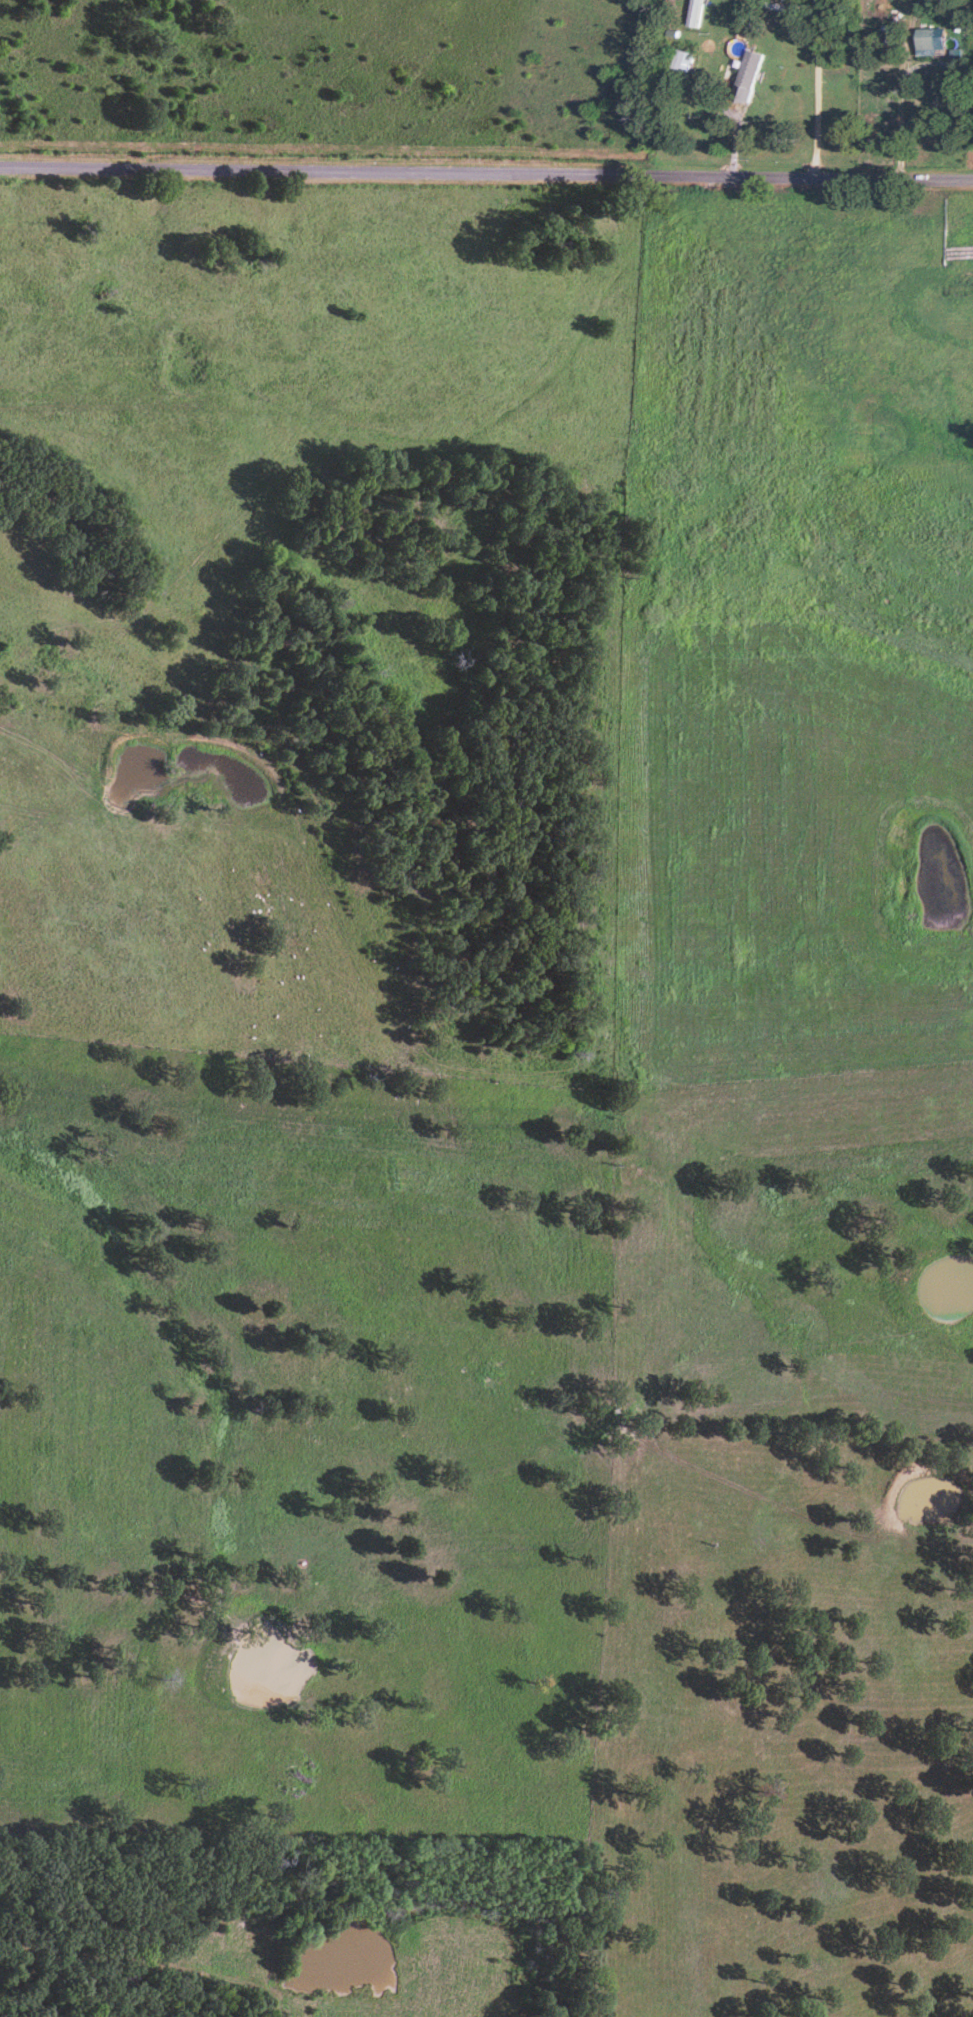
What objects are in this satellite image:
building: (690, 17)
building: (928, 39)
building: (685, 62)
building: (752, 78)
road: (815, 89)
road: (919, 116)
road: (486, 175)

